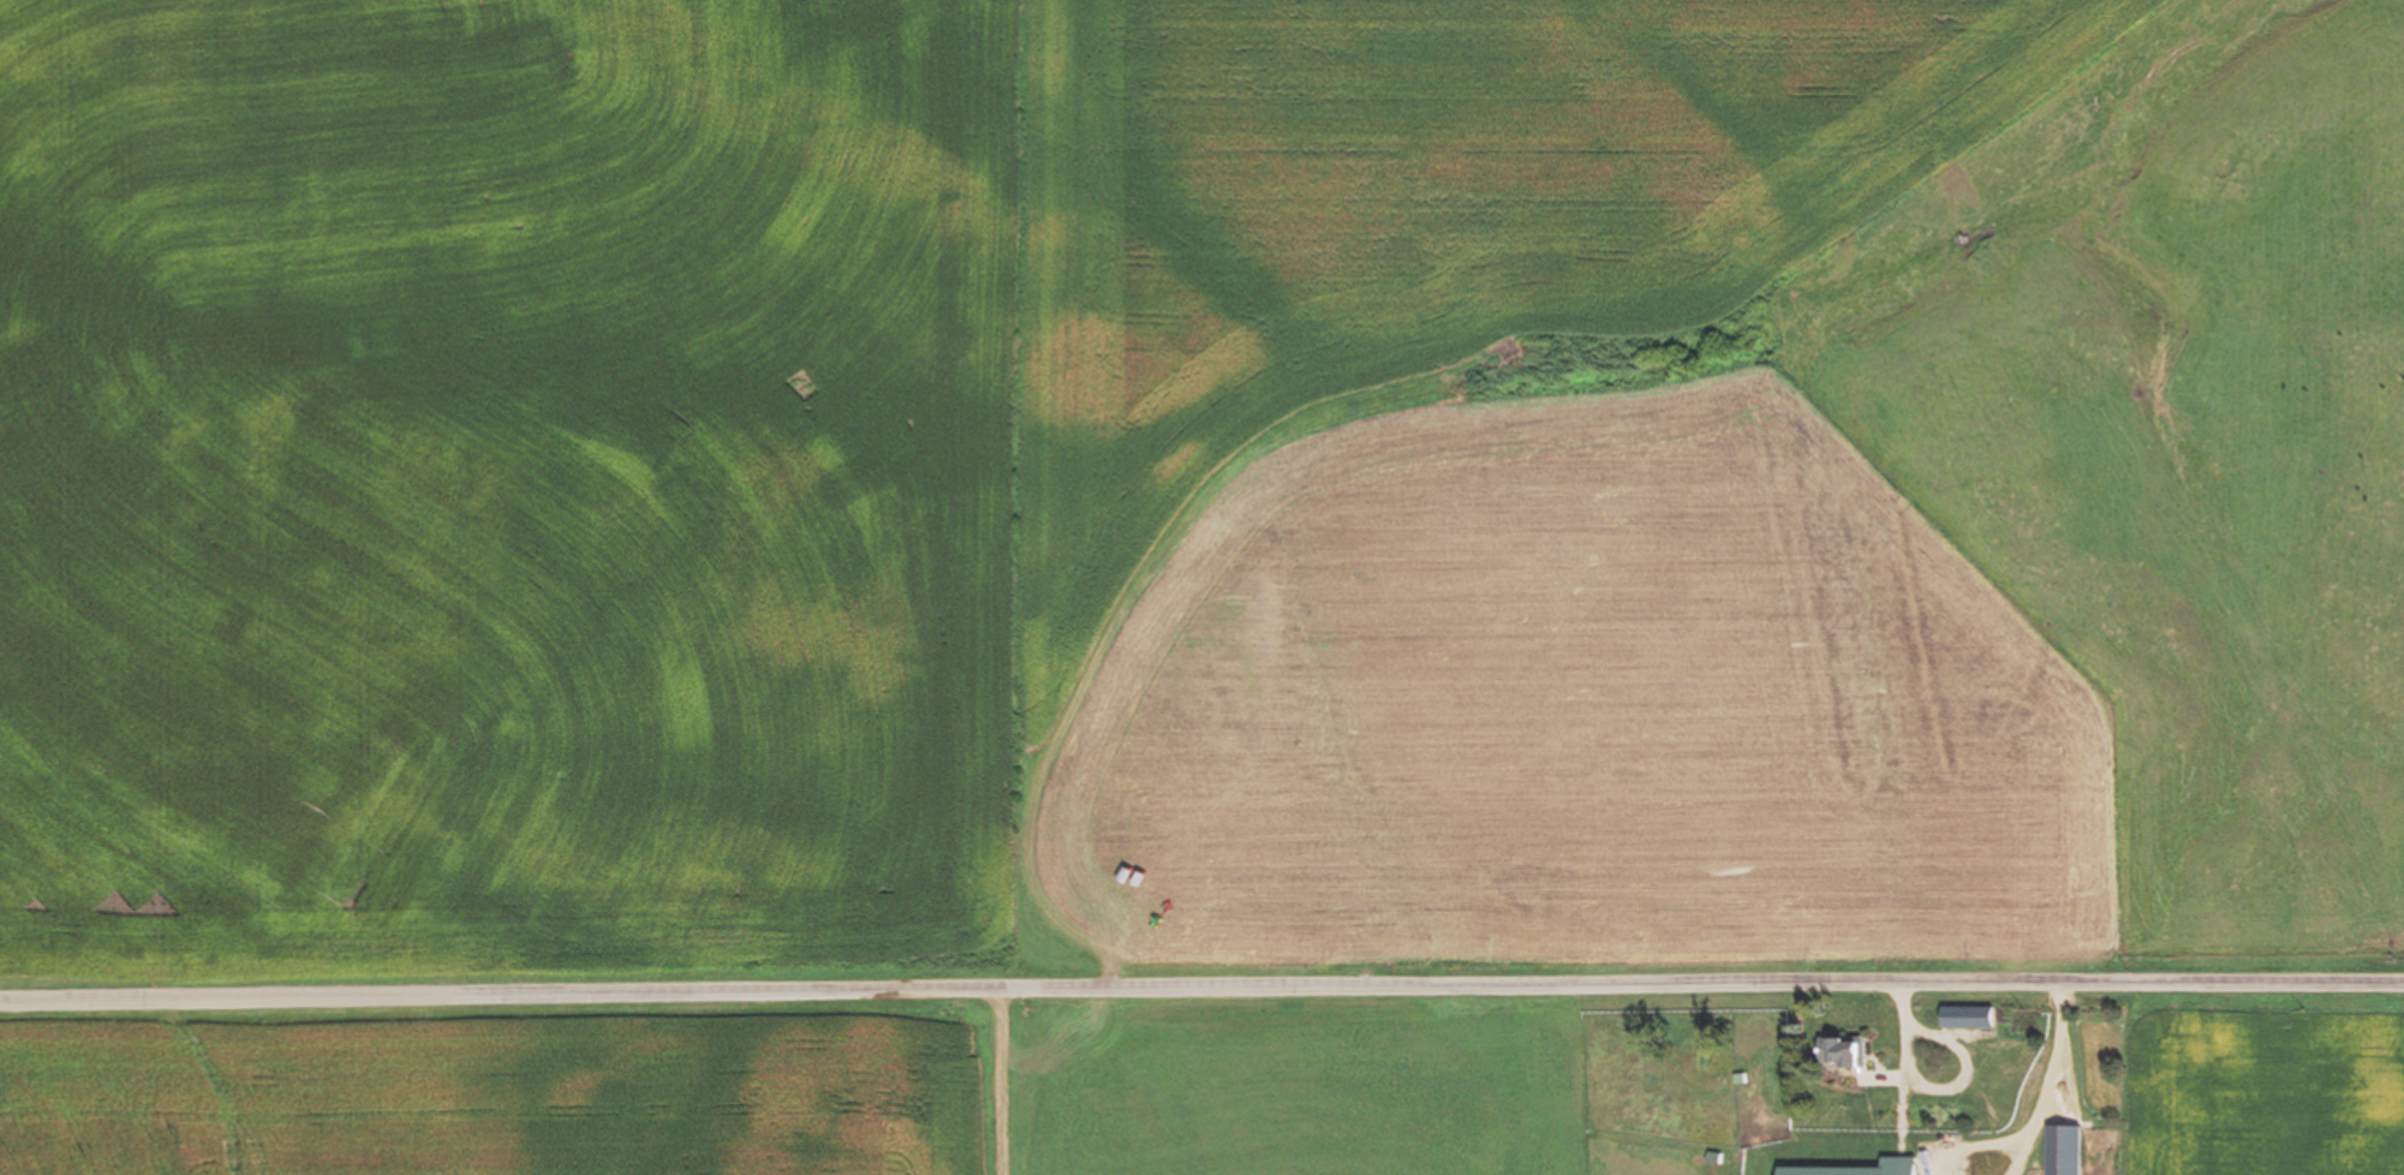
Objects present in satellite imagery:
road: (1201, 990)
building: (1973, 1018)
building: (1848, 1054)
road: (1004, 1084)
building: (2068, 1150)
building: (1905, 1164)

